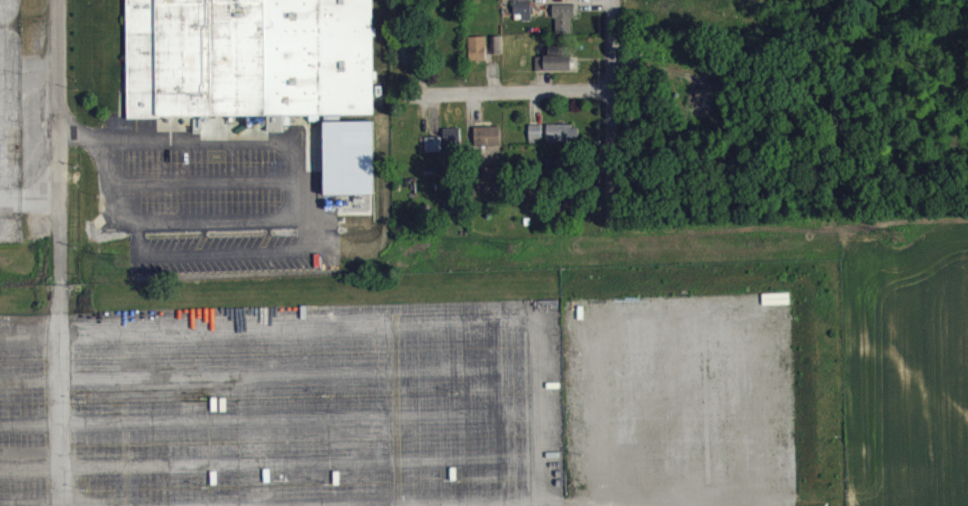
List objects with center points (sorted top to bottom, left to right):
building: (557, 0)
building: (524, 19)
building: (565, 27)
building: (497, 53)
building: (477, 56)
building: (248, 58)
building: (557, 59)
building: (554, 71)
road: (515, 91)
road: (617, 104)
building: (277, 132)
road: (56, 137)
building: (536, 140)
building: (564, 141)
building: (488, 144)
building: (446, 148)
building: (489, 188)
road: (297, 193)
road: (58, 301)
road: (436, 316)

